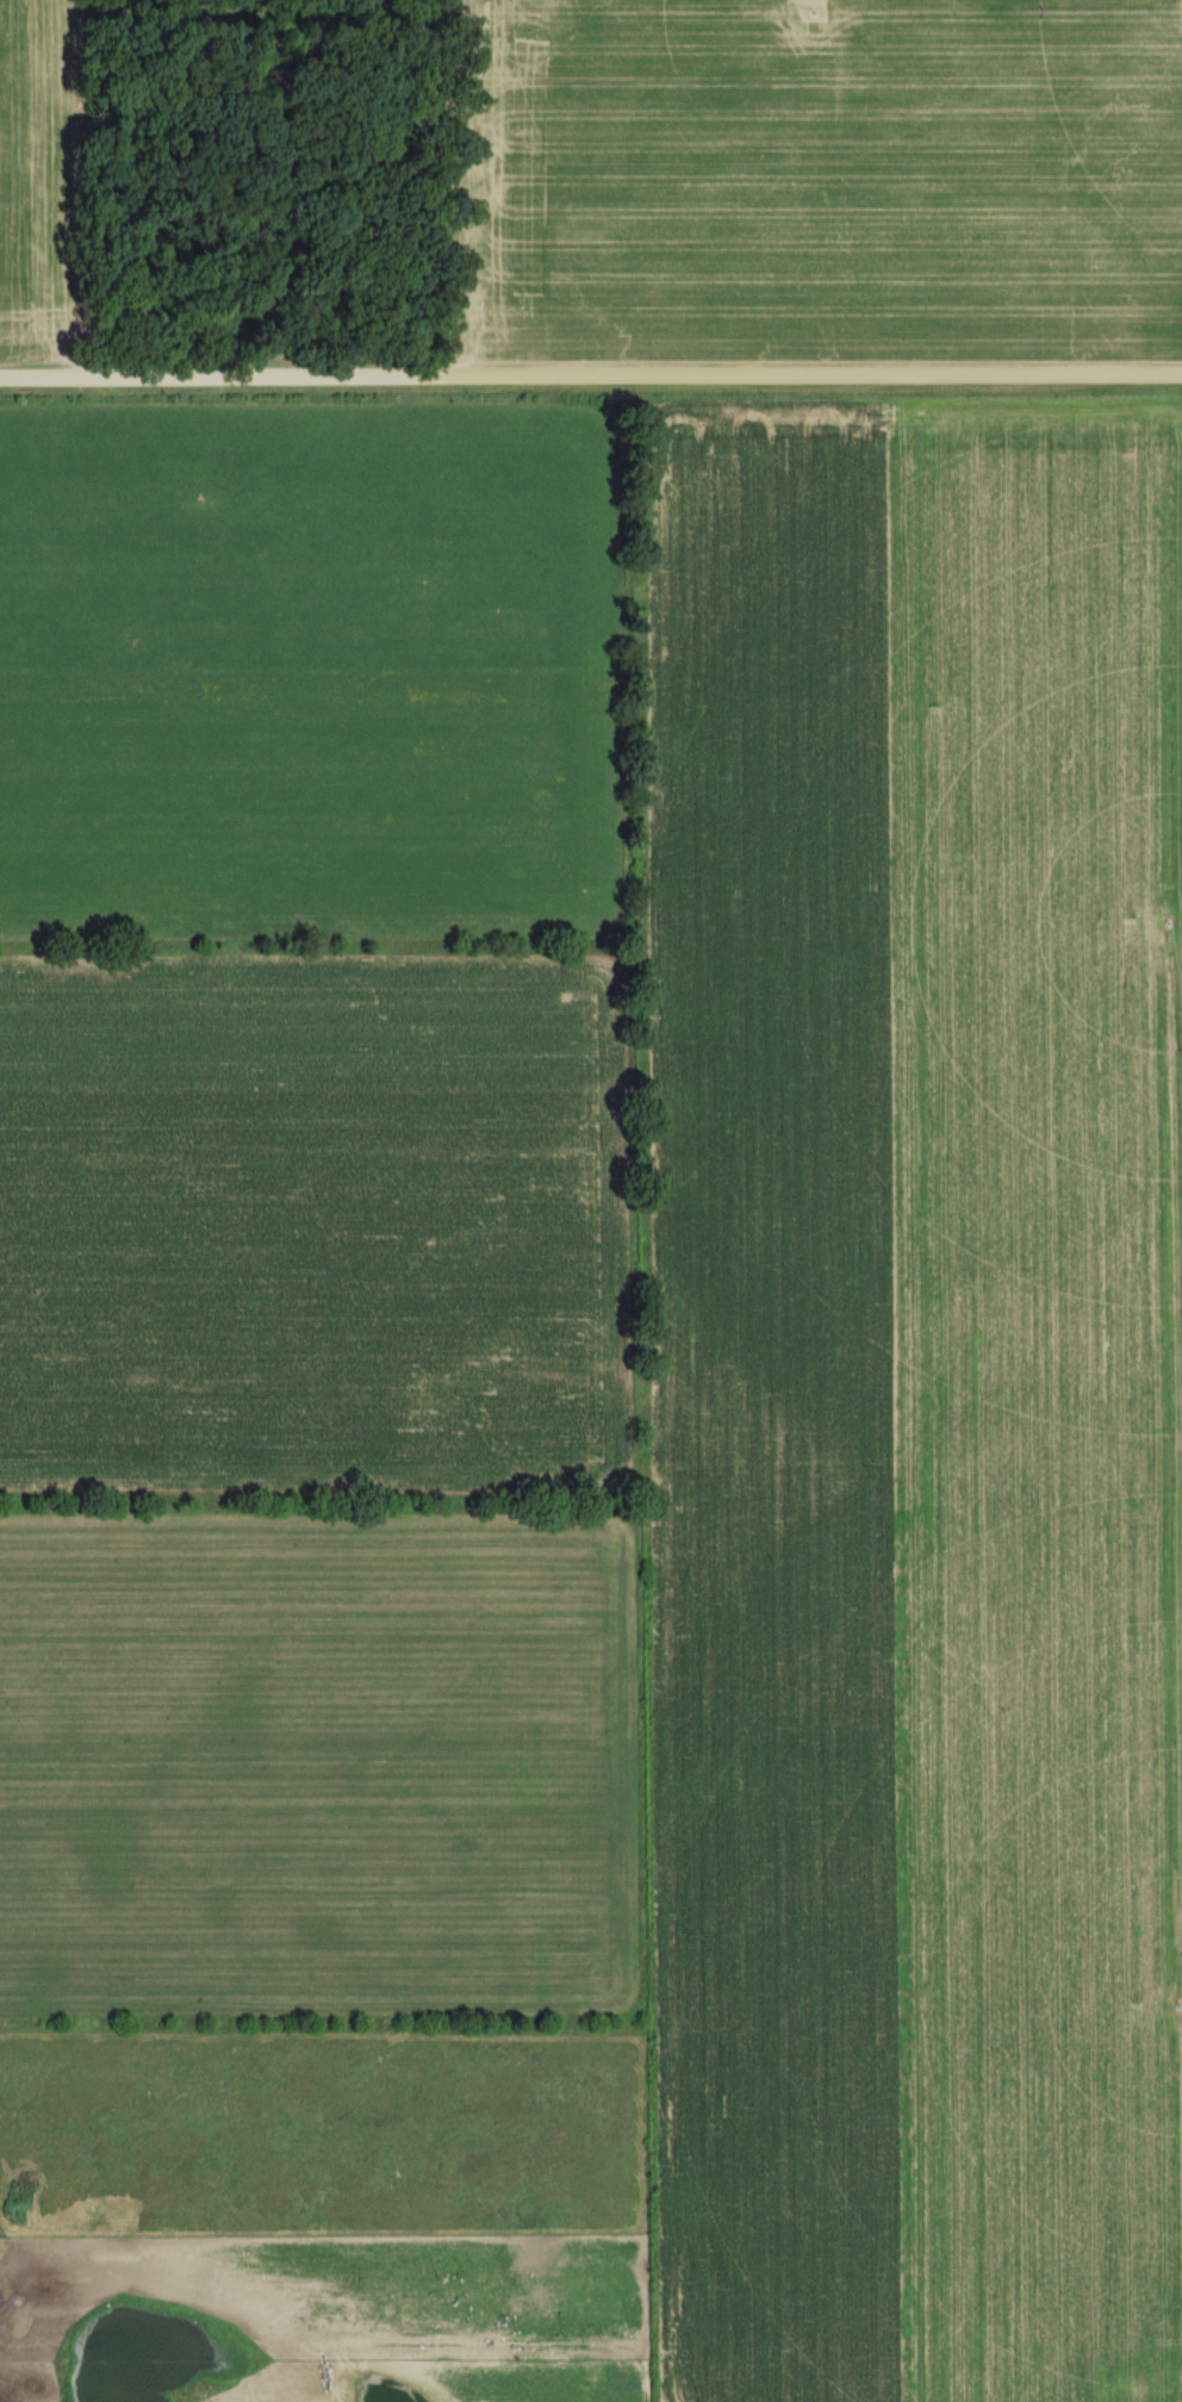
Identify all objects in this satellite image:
crop: (815, 197)
road: (590, 366)
crop: (591, 1398)

